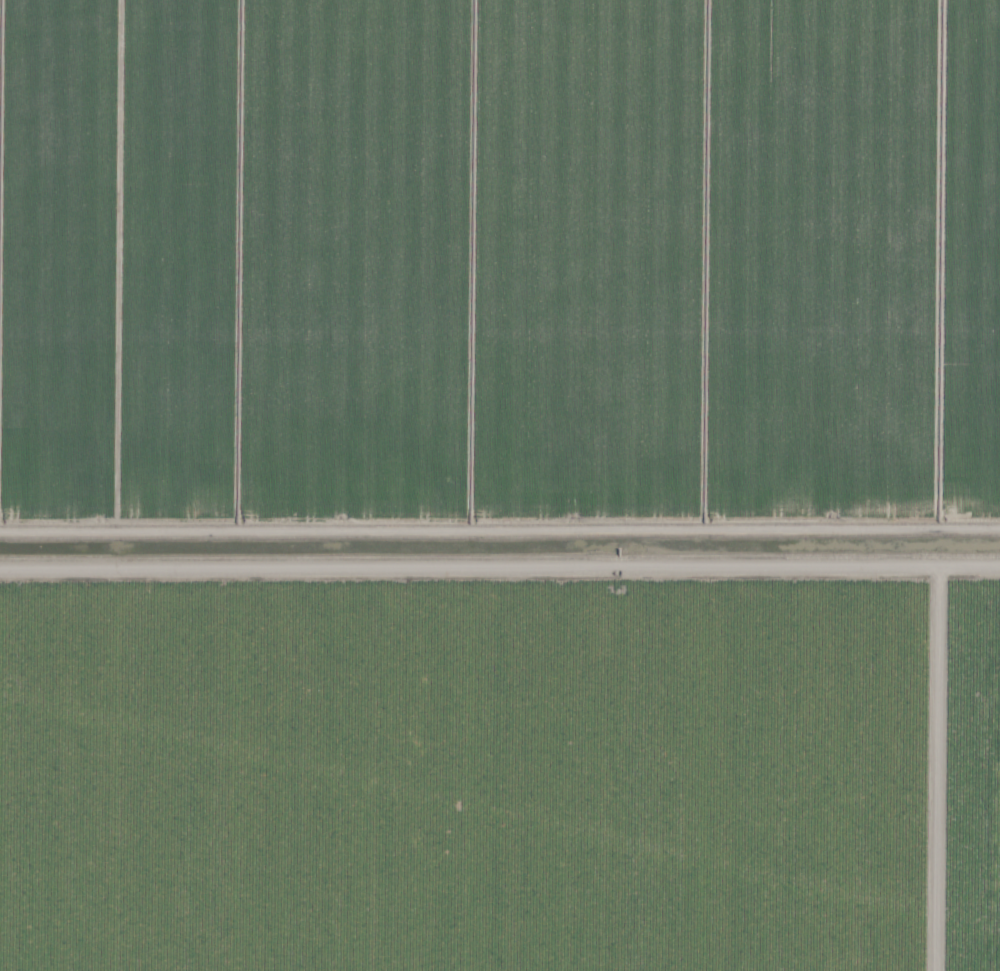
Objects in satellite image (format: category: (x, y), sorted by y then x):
road: (500, 565)

